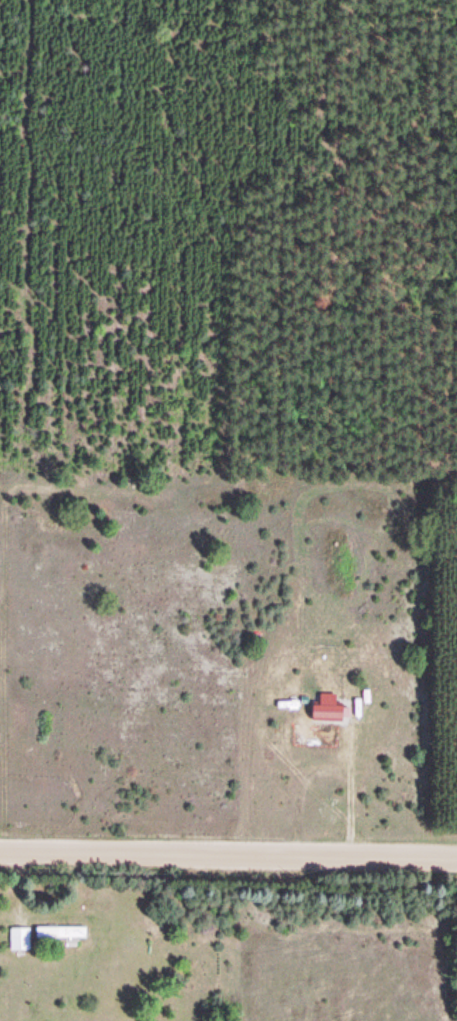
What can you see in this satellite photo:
road: (228, 849)
building: (62, 933)
building: (20, 940)

